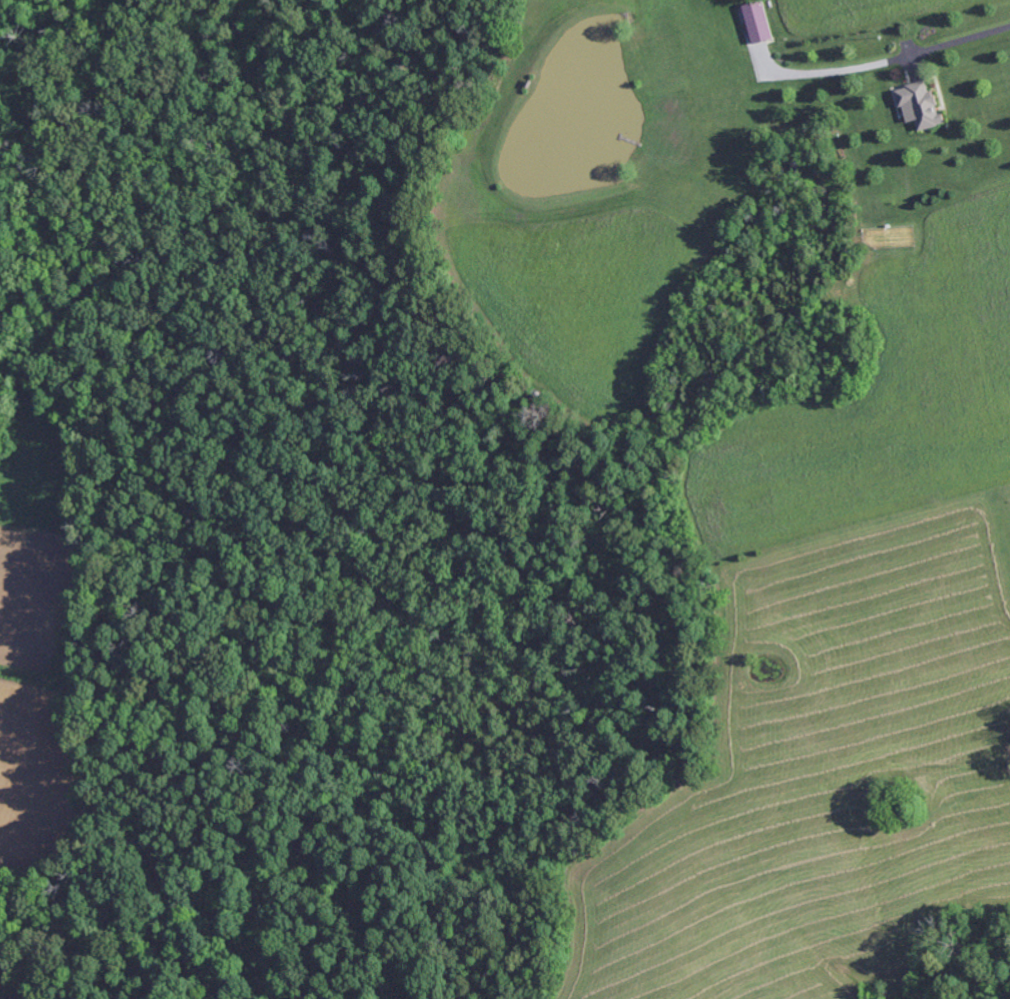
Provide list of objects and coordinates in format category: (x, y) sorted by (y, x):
building: (761, 22)
building: (924, 106)

